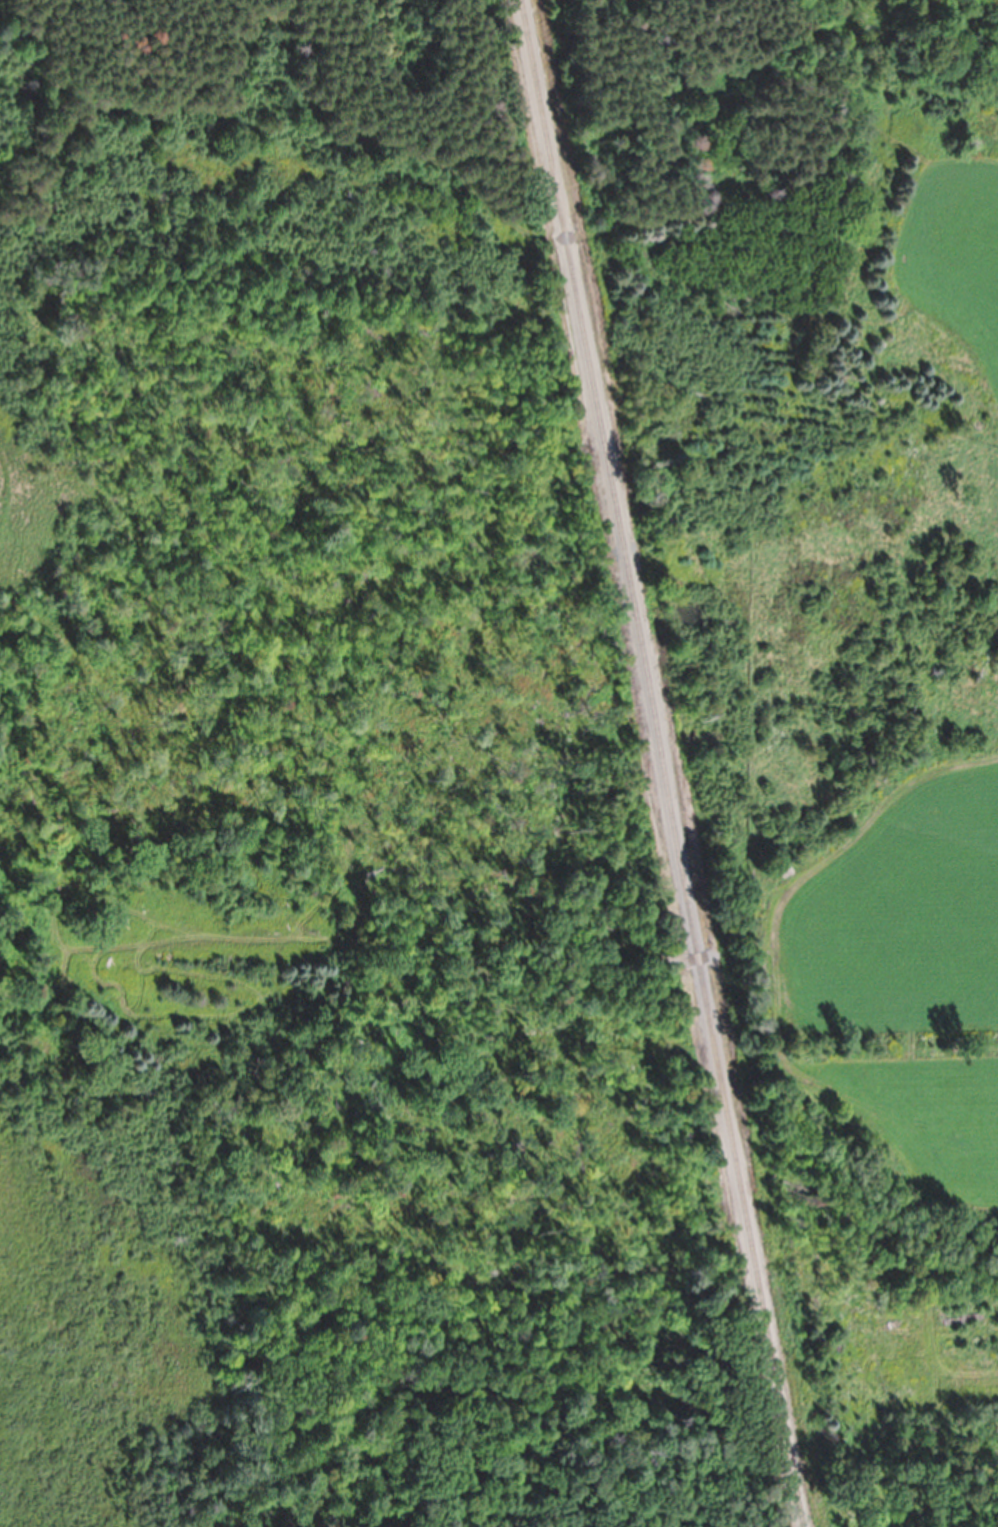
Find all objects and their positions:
railway: (660, 763)

